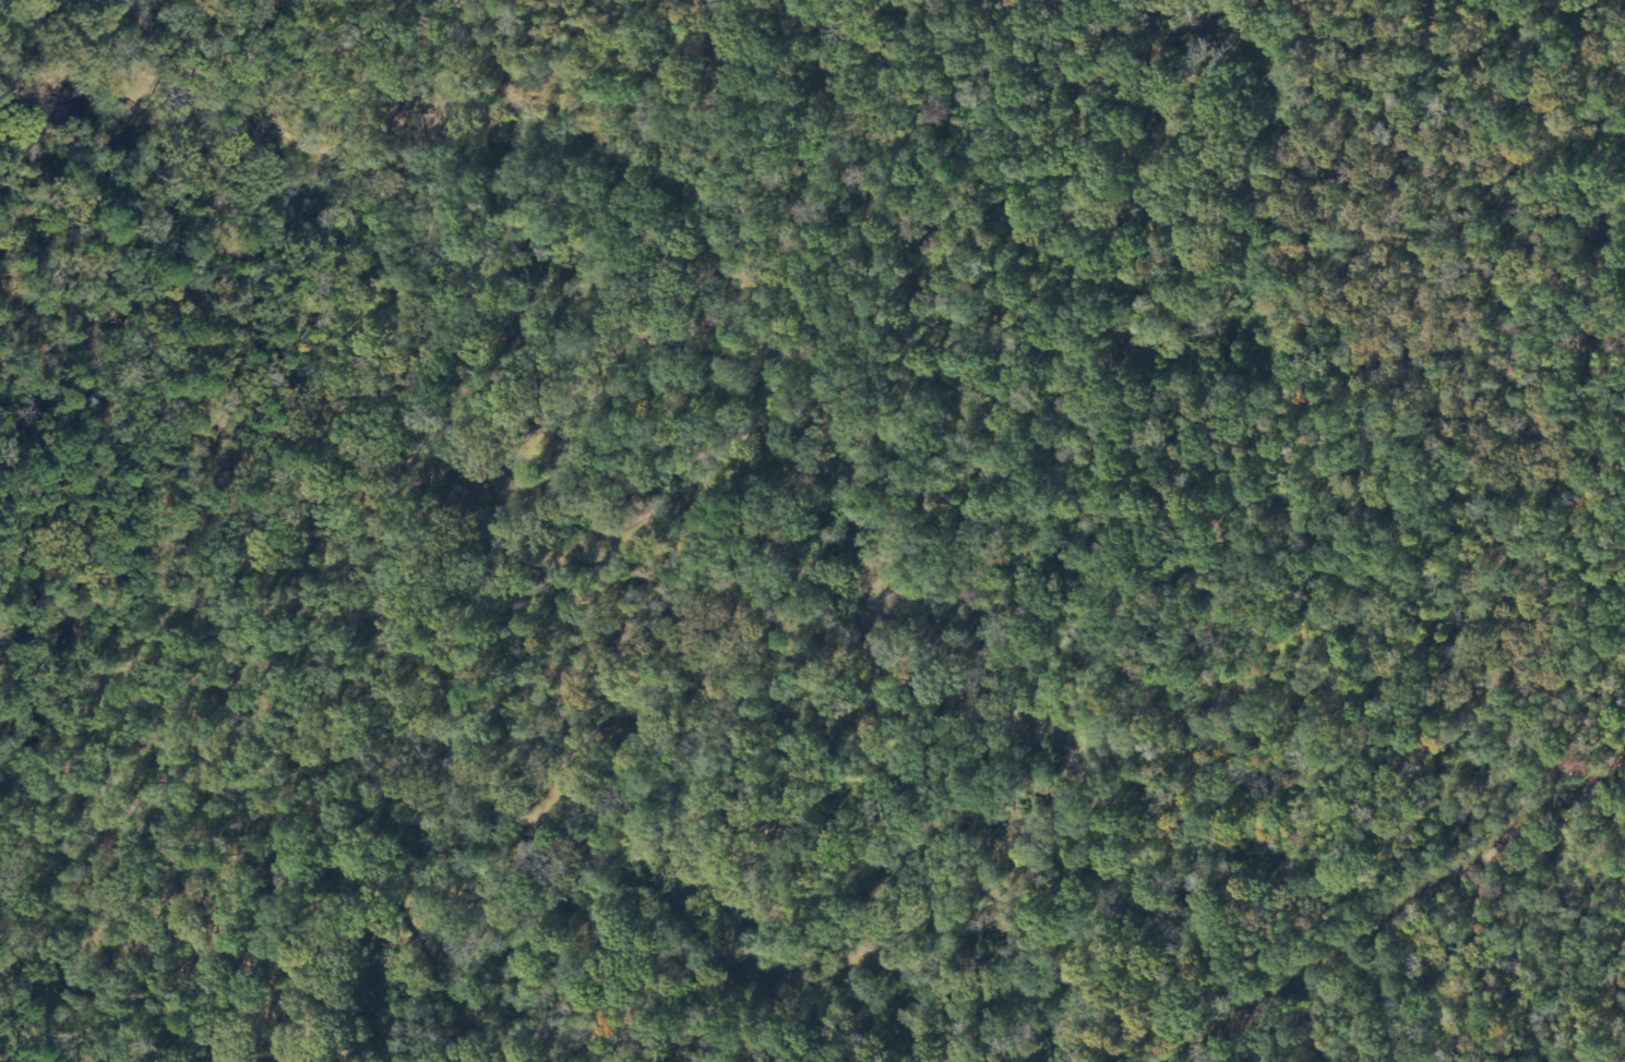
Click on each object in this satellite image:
river: (823, 505)

